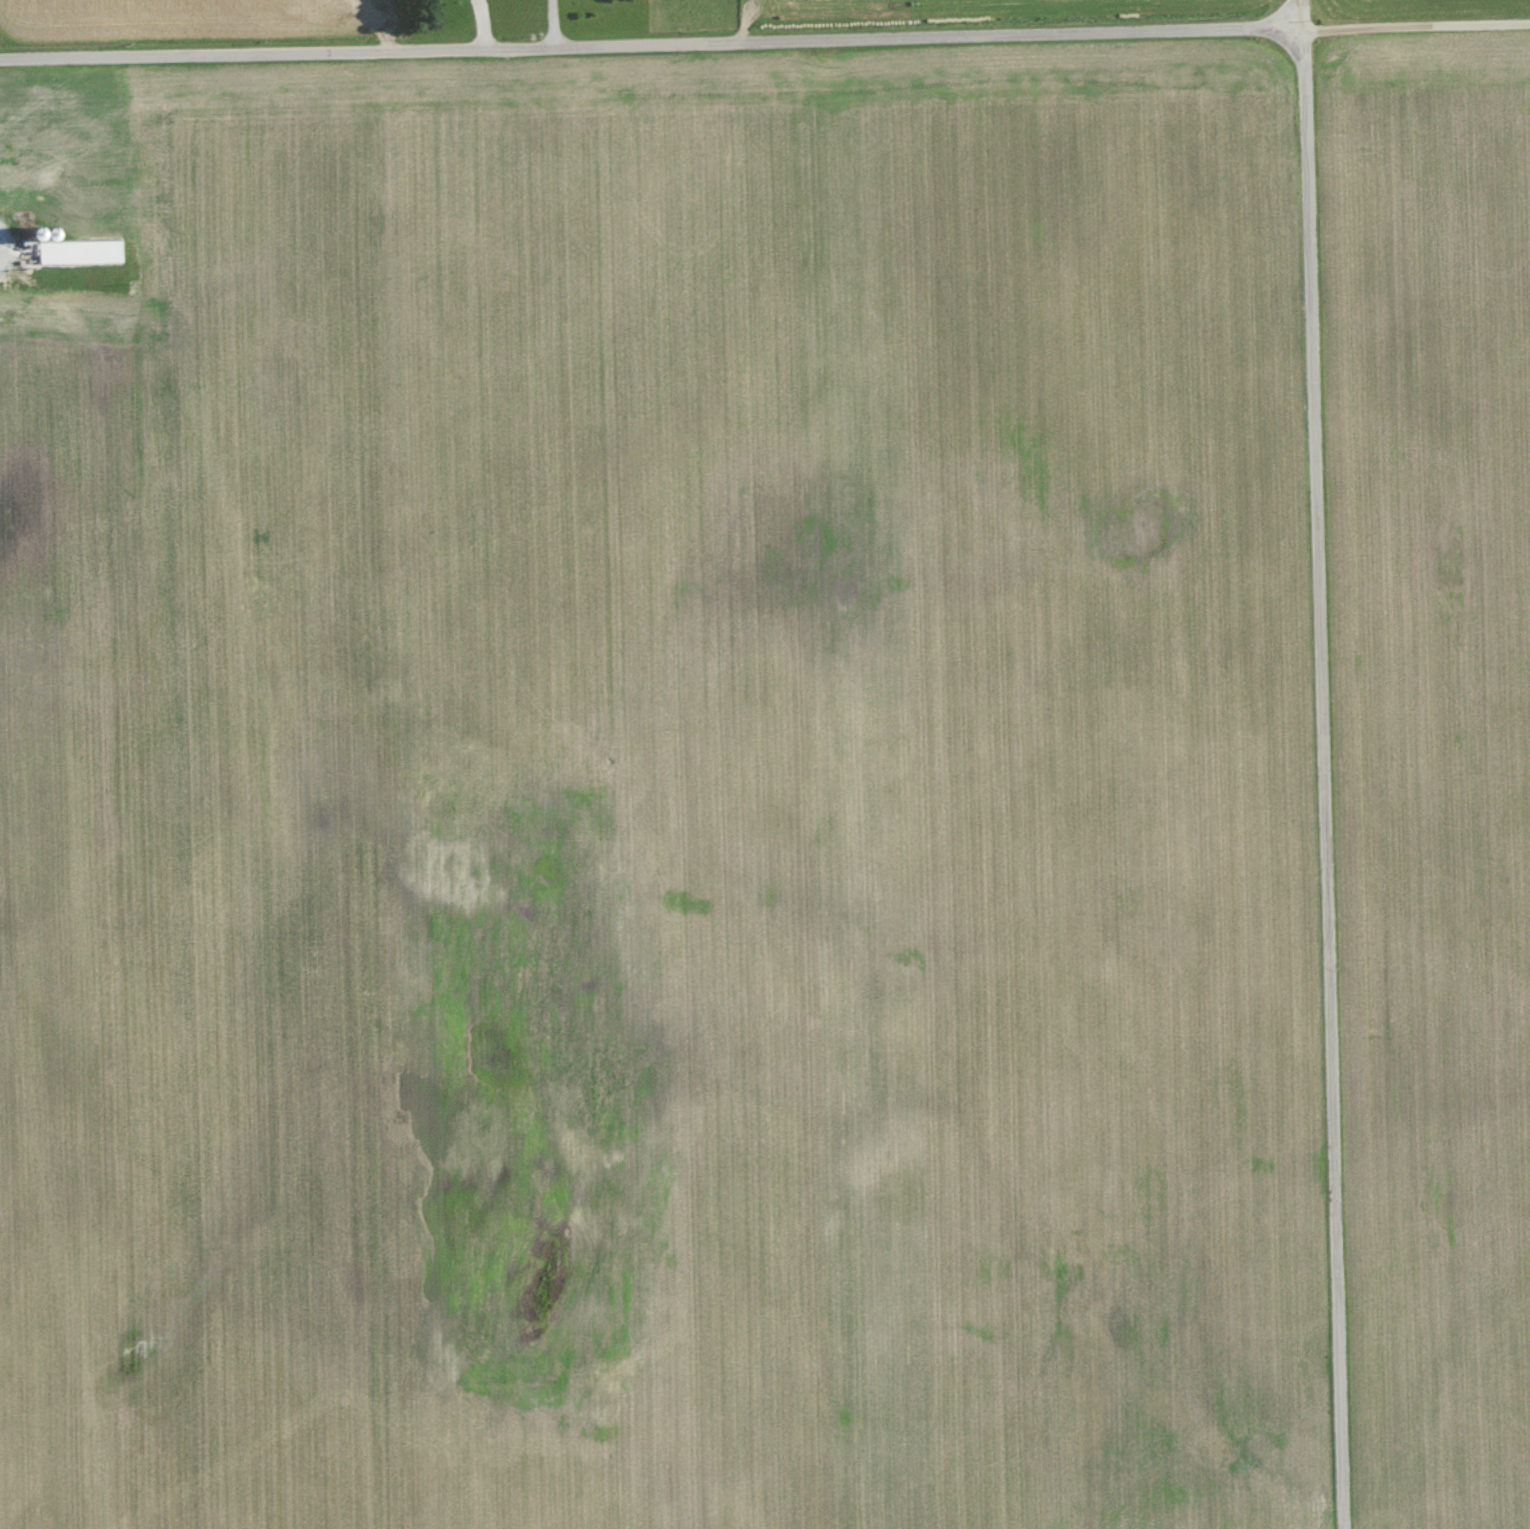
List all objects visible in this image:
road: (1301, 14)
road: (549, 24)
road: (1415, 24)
road: (650, 44)
building: (104, 251)
road: (1324, 778)

